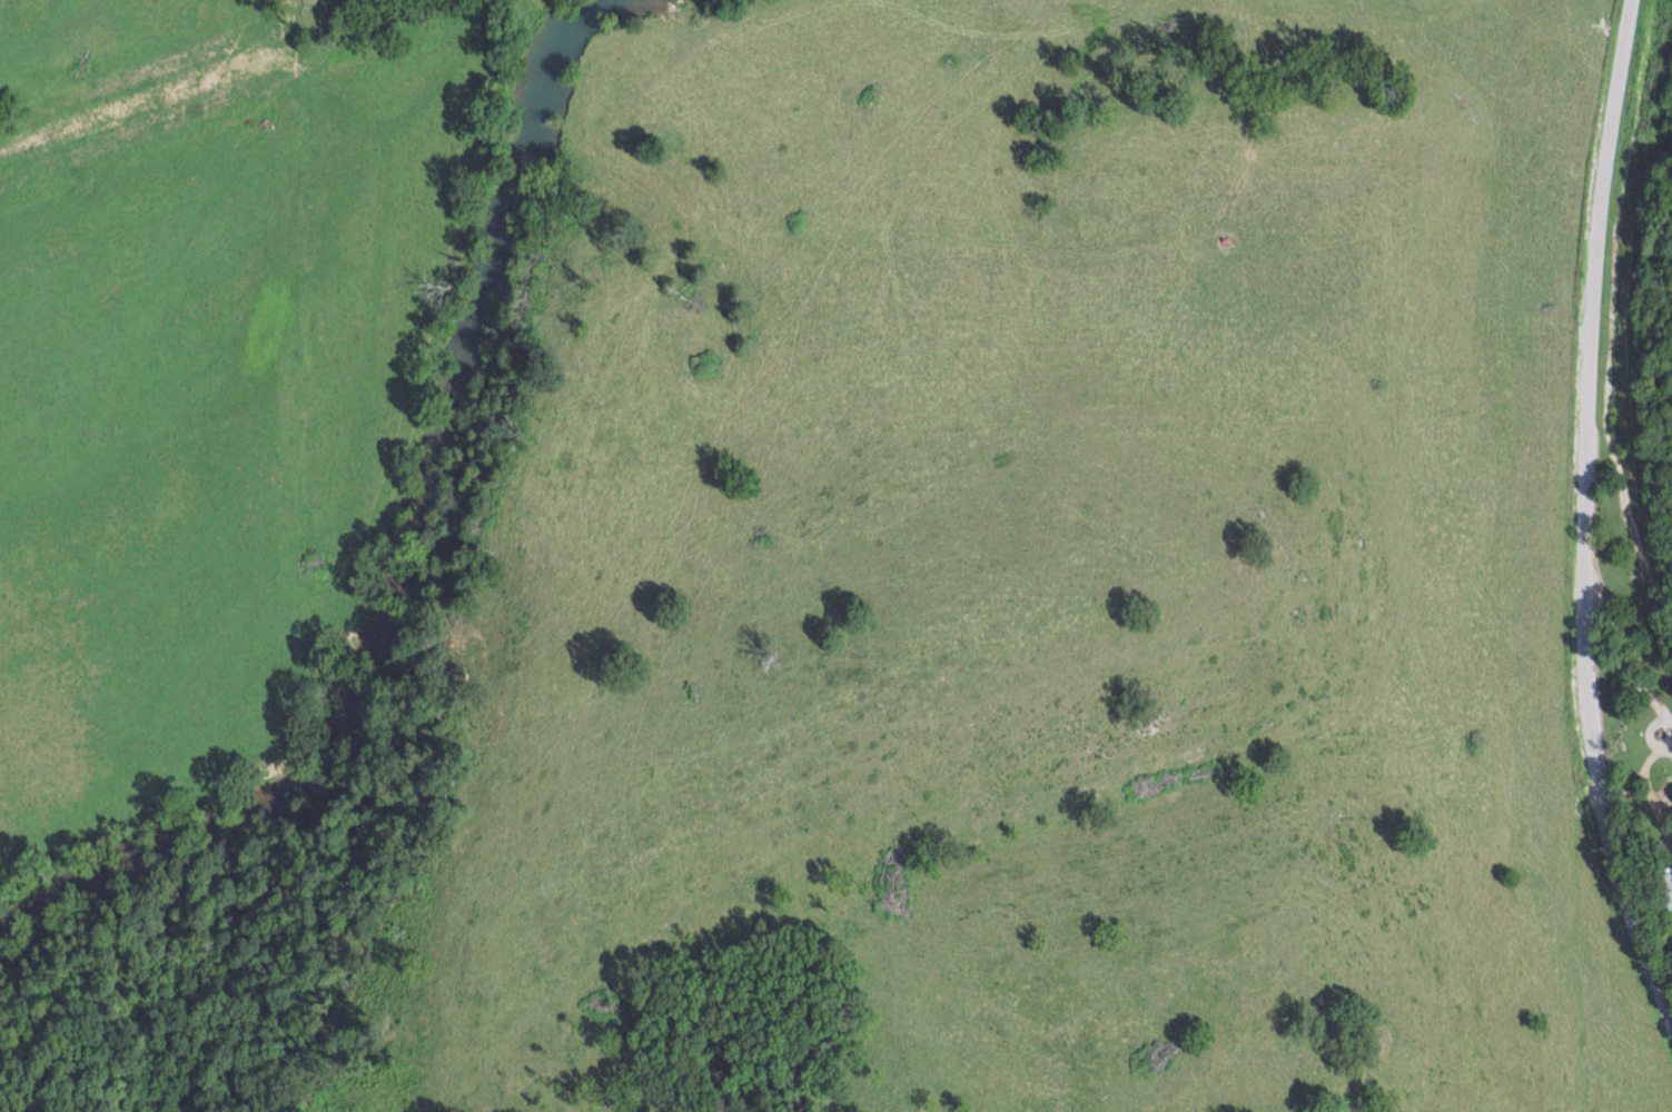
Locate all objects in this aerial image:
road: (1581, 519)
road: (1639, 684)
road: (1666, 864)

